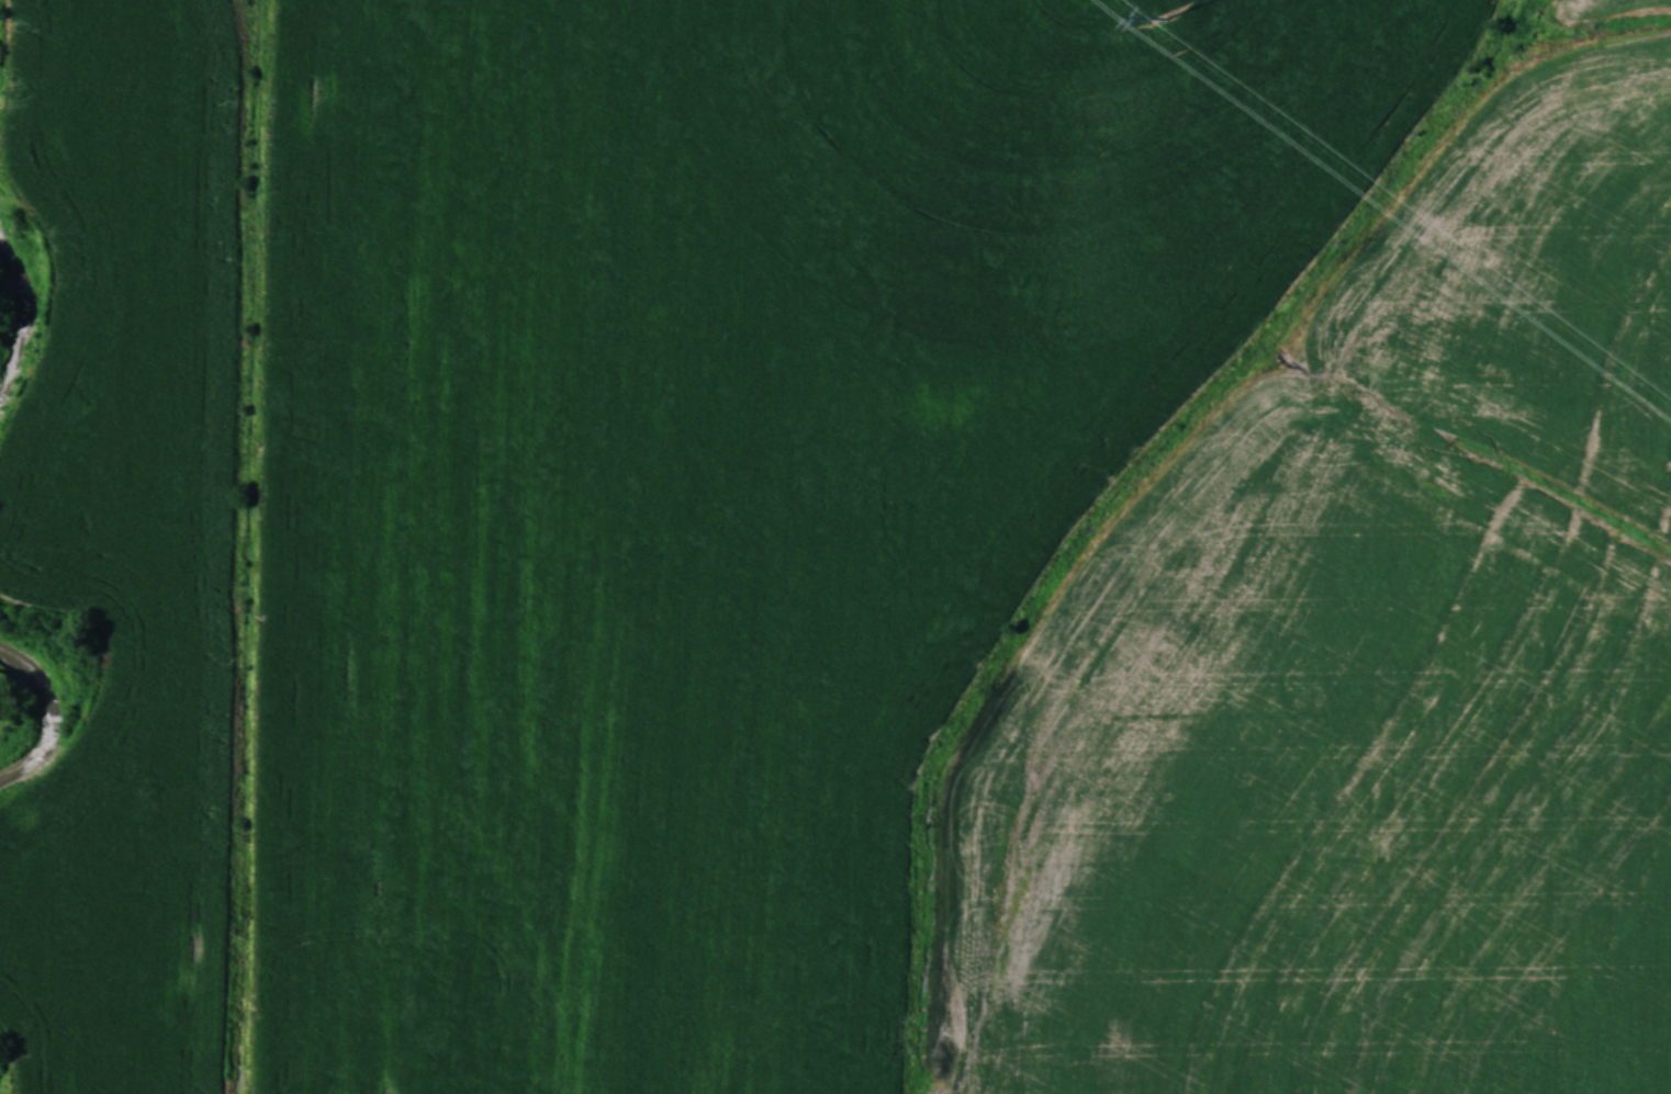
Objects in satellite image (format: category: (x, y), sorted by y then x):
power tower: (1164, 15)

